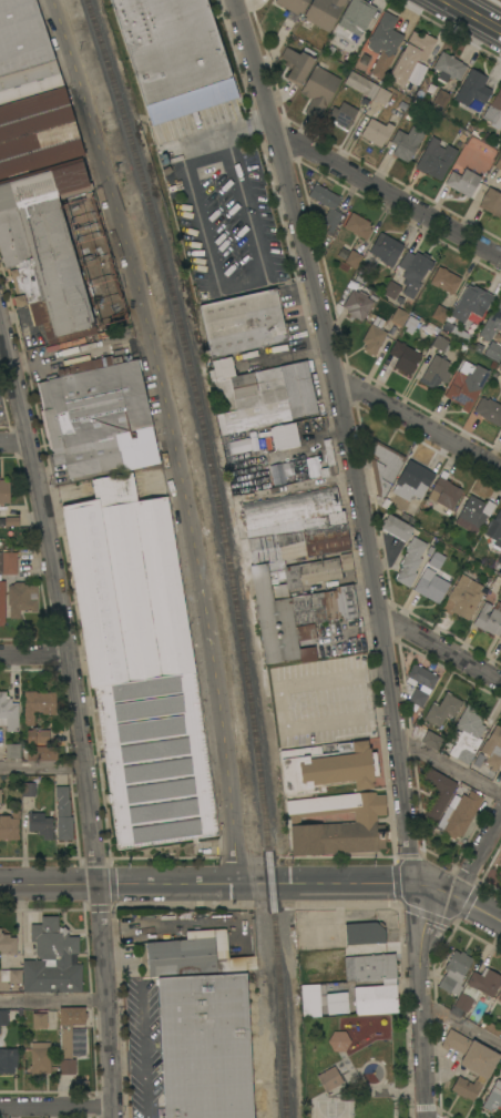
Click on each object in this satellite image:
building: (293, 6)
building: (324, 12)
road: (470, 17)
building: (354, 20)
building: (384, 43)
building: (419, 44)
building: (24, 52)
building: (174, 55)
building: (296, 65)
building: (448, 68)
building: (416, 73)
building: (360, 84)
building: (319, 90)
building: (473, 91)
building: (381, 96)
building: (440, 100)
building: (494, 110)
building: (342, 114)
road: (235, 128)
building: (376, 132)
building: (406, 143)
building: (436, 157)
building: (499, 163)
building: (462, 182)
road: (389, 195)
building: (491, 202)
building: (327, 205)
building: (42, 212)
building: (358, 225)
building: (386, 248)
building: (352, 258)
building: (413, 271)
building: (442, 282)
road: (233, 283)
building: (391, 289)
building: (471, 303)
building: (357, 304)
building: (439, 314)
building: (403, 319)
building: (491, 322)
building: (244, 323)
building: (456, 332)
building: (109, 333)
building: (372, 339)
building: (71, 342)
building: (441, 342)
building: (493, 350)
road: (80, 352)
building: (403, 357)
building: (75, 359)
building: (434, 372)
building: (467, 385)
building: (264, 398)
building: (94, 402)
building: (489, 410)
road: (419, 425)
road: (168, 435)
road: (14, 441)
building: (238, 446)
building: (290, 453)
building: (109, 454)
building: (382, 465)
building: (412, 481)
building: (4, 491)
building: (444, 491)
building: (292, 506)
building: (473, 514)
building: (11, 521)
building: (397, 528)
building: (494, 530)
building: (298, 538)
railway: (214, 551)
railway: (227, 551)
road: (369, 556)
building: (436, 560)
building: (410, 561)
building: (8, 563)
building: (289, 577)
building: (430, 586)
building: (463, 597)
building: (21, 598)
building: (1, 602)
building: (489, 618)
building: (301, 621)
road: (441, 649)
road: (35, 653)
building: (140, 664)
building: (420, 677)
building: (418, 698)
building: (38, 704)
building: (442, 709)
building: (8, 713)
road: (80, 716)
building: (467, 735)
building: (38, 736)
building: (432, 740)
building: (492, 749)
building: (12, 751)
building: (42, 753)
road: (449, 765)
road: (43, 768)
building: (327, 768)
building: (28, 790)
building: (437, 793)
building: (0, 795)
building: (63, 814)
building: (461, 815)
building: (40, 824)
building: (337, 824)
building: (9, 826)
road: (476, 863)
building: (500, 863)
building: (500, 865)
road: (255, 882)
road: (190, 922)
building: (365, 933)
building: (8, 944)
building: (197, 955)
building: (52, 959)
building: (369, 967)
building: (454, 972)
building: (11, 976)
building: (478, 987)
building: (376, 996)
building: (500, 998)
building: (310, 999)
road: (54, 1002)
building: (337, 1003)
building: (3, 1017)
building: (39, 1020)
road: (462, 1025)
building: (490, 1027)
road: (142, 1031)
building: (69, 1036)
building: (339, 1041)
building: (205, 1046)
building: (40, 1058)
building: (8, 1060)
building: (470, 1063)
building: (329, 1078)
road: (145, 1079)
building: (493, 1097)
road: (57, 1106)

